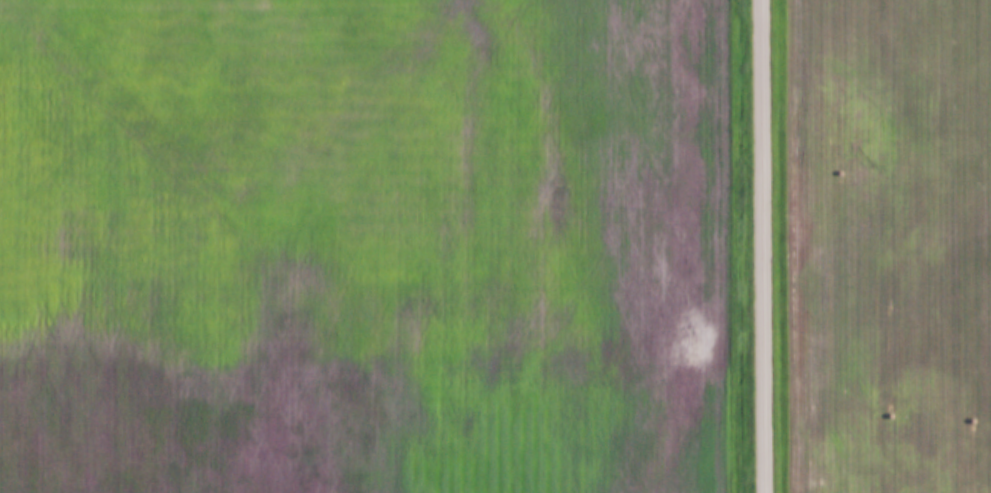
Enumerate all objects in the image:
road: (764, 246)

